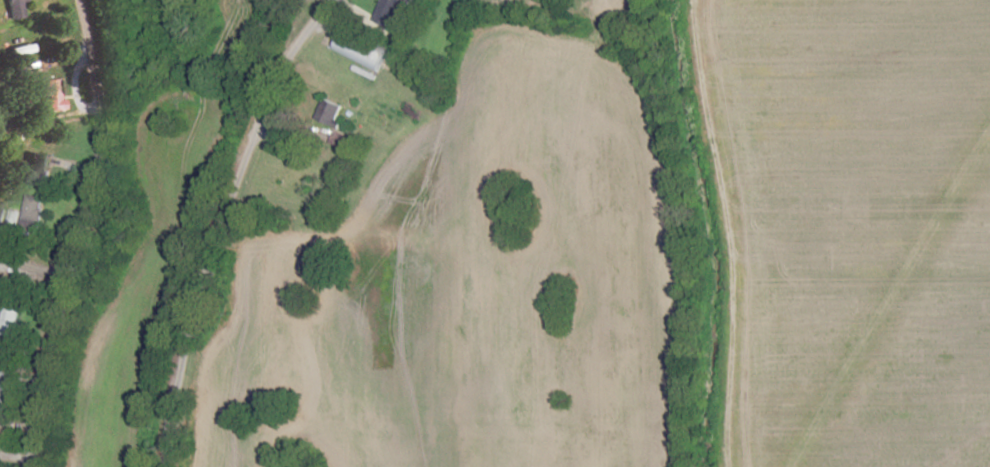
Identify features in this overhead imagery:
building: (13, 8)
building: (391, 16)
building: (358, 49)
building: (48, 94)
building: (328, 113)
building: (338, 139)
building: (34, 169)
building: (29, 214)
road: (229, 219)
road: (82, 232)
road: (33, 269)
building: (7, 323)
building: (1, 384)
building: (0, 437)

